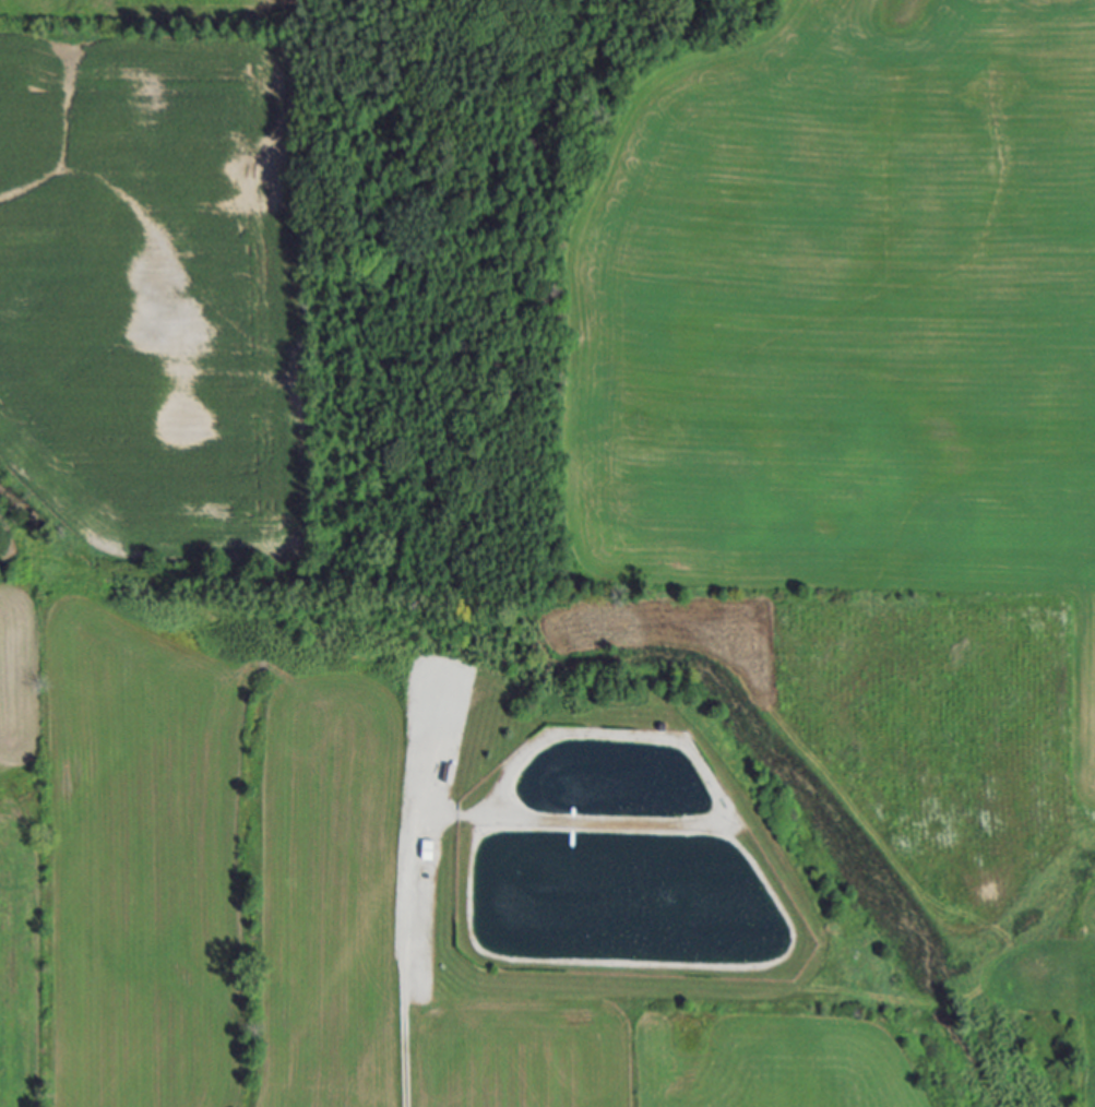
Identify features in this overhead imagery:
building: (429, 850)

